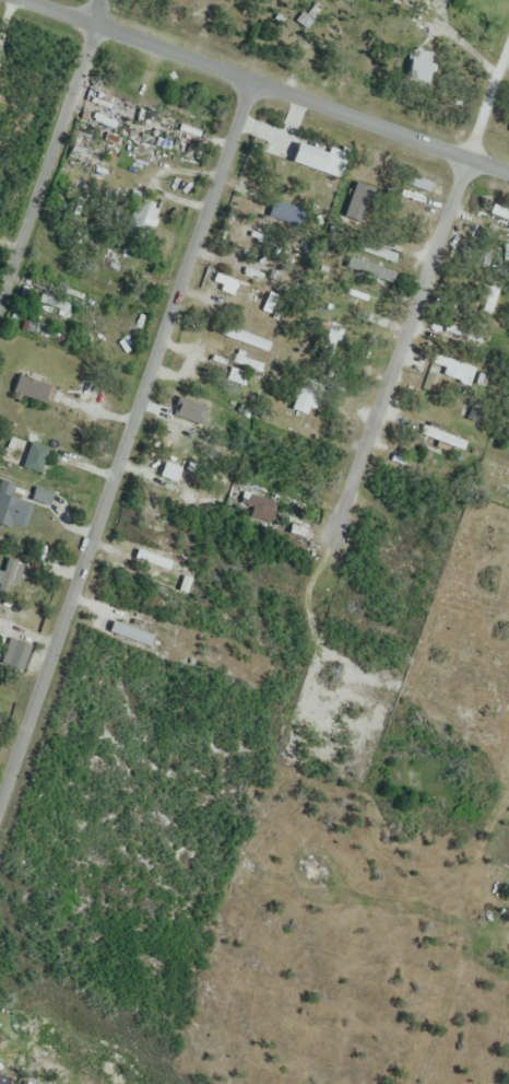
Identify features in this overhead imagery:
building: (394, 5)
road: (97, 13)
building: (416, 67)
road: (239, 81)
road: (486, 94)
building: (508, 129)
building: (85, 150)
road: (46, 162)
road: (486, 165)
building: (421, 184)
building: (405, 195)
building: (500, 212)
building: (142, 222)
building: (378, 253)
building: (113, 255)
building: (371, 271)
building: (492, 295)
building: (330, 334)
building: (464, 334)
road: (398, 342)
building: (450, 365)
building: (305, 398)
building: (185, 410)
building: (471, 410)
building: (454, 422)
building: (439, 435)
road: (125, 439)
building: (35, 458)
building: (493, 469)
building: (257, 506)
building: (24, 511)
building: (10, 576)
building: (20, 656)

